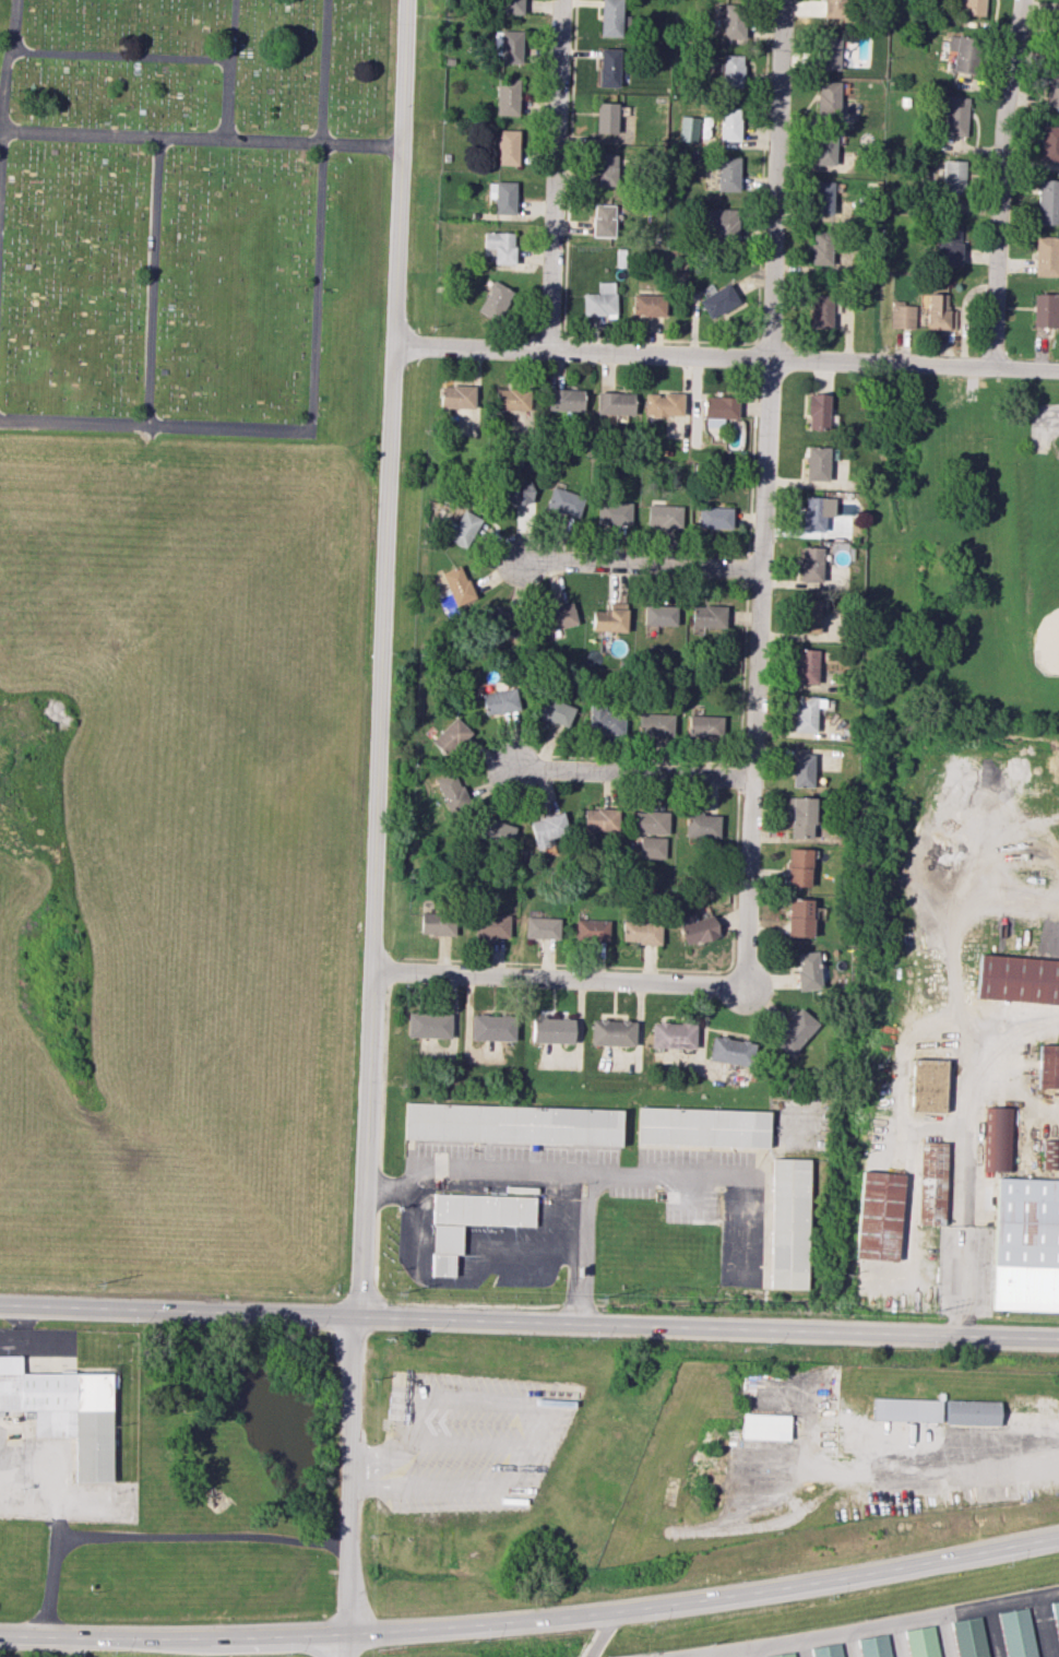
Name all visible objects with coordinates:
building: (511, 7)
building: (972, 7)
building: (832, 8)
building: (609, 17)
building: (733, 21)
building: (1057, 36)
building: (507, 46)
building: (828, 52)
building: (961, 52)
road: (118, 57)
building: (608, 68)
road: (228, 70)
building: (731, 71)
building: (1052, 90)
road: (3, 93)
building: (507, 96)
building: (828, 98)
building: (954, 116)
building: (605, 117)
building: (729, 123)
building: (688, 128)
road: (201, 139)
building: (1049, 143)
building: (507, 146)
building: (824, 147)
building: (604, 169)
building: (727, 173)
road: (554, 175)
building: (951, 177)
road: (998, 182)
building: (502, 197)
building: (822, 198)
building: (1047, 202)
building: (603, 220)
building: (721, 221)
building: (947, 245)
building: (500, 246)
building: (821, 247)
building: (1046, 256)
road: (152, 281)
building: (493, 300)
building: (599, 300)
building: (718, 300)
building: (647, 305)
building: (1047, 310)
building: (820, 311)
building: (939, 311)
building: (902, 316)
road: (725, 356)
road: (311, 370)
building: (455, 397)
building: (510, 399)
building: (563, 400)
building: (614, 403)
building: (662, 404)
building: (718, 410)
building: (816, 411)
road: (1043, 416)
building: (816, 463)
park: (1058, 478)
building: (513, 493)
road: (762, 496)
building: (563, 502)
building: (612, 512)
building: (814, 512)
building: (664, 516)
building: (714, 517)
building: (462, 529)
park: (960, 546)
road: (640, 564)
building: (810, 564)
building: (457, 584)
building: (658, 615)
building: (707, 615)
building: (809, 615)
building: (558, 616)
building: (607, 619)
building: (501, 622)
park: (187, 630)
building: (806, 666)
building: (499, 701)
building: (554, 711)
building: (805, 713)
building: (604, 719)
building: (655, 724)
building: (704, 725)
building: (451, 736)
building: (801, 770)
road: (635, 772)
building: (450, 791)
building: (799, 816)
road: (374, 819)
building: (599, 819)
building: (650, 821)
building: (702, 826)
building: (547, 828)
building: (495, 831)
building: (652, 847)
building: (797, 867)
building: (798, 918)
building: (437, 923)
building: (492, 925)
building: (542, 927)
building: (697, 927)
building: (592, 930)
building: (641, 932)
road: (953, 933)
building: (806, 970)
building: (1016, 979)
road: (550, 980)
building: (428, 1025)
building: (491, 1027)
building: (551, 1030)
building: (792, 1031)
building: (611, 1032)
road: (1020, 1032)
building: (671, 1034)
building: (729, 1051)
building: (1048, 1066)
building: (926, 1085)
building: (512, 1124)
building: (702, 1126)
building: (999, 1138)
building: (1049, 1155)
road: (544, 1172)
road: (705, 1175)
building: (930, 1183)
road: (964, 1191)
building: (483, 1209)
building: (876, 1216)
building: (786, 1223)
building: (1025, 1245)
building: (444, 1247)
road: (456, 1281)
power tower: (95, 1289)
power tower: (395, 1292)
power tower: (593, 1298)
power tower: (931, 1310)
road: (529, 1322)
building: (906, 1409)
building: (64, 1411)
building: (972, 1412)
building: (763, 1425)
parking lot: (468, 1444)
road: (916, 1466)
road: (55, 1500)
road: (202, 1536)
road: (50, 1586)
road: (532, 1619)
building: (1056, 1620)
road: (873, 1625)
road: (1045, 1625)
road: (992, 1631)
building: (1016, 1633)
road: (600, 1634)
road: (945, 1635)
building: (969, 1637)
road: (897, 1640)
building: (924, 1642)
road: (847, 1644)
building: (874, 1646)
road: (337, 1647)
road: (800, 1647)
building: (829, 1650)
road: (754, 1652)
road: (706, 1655)
building: (784, 1655)

